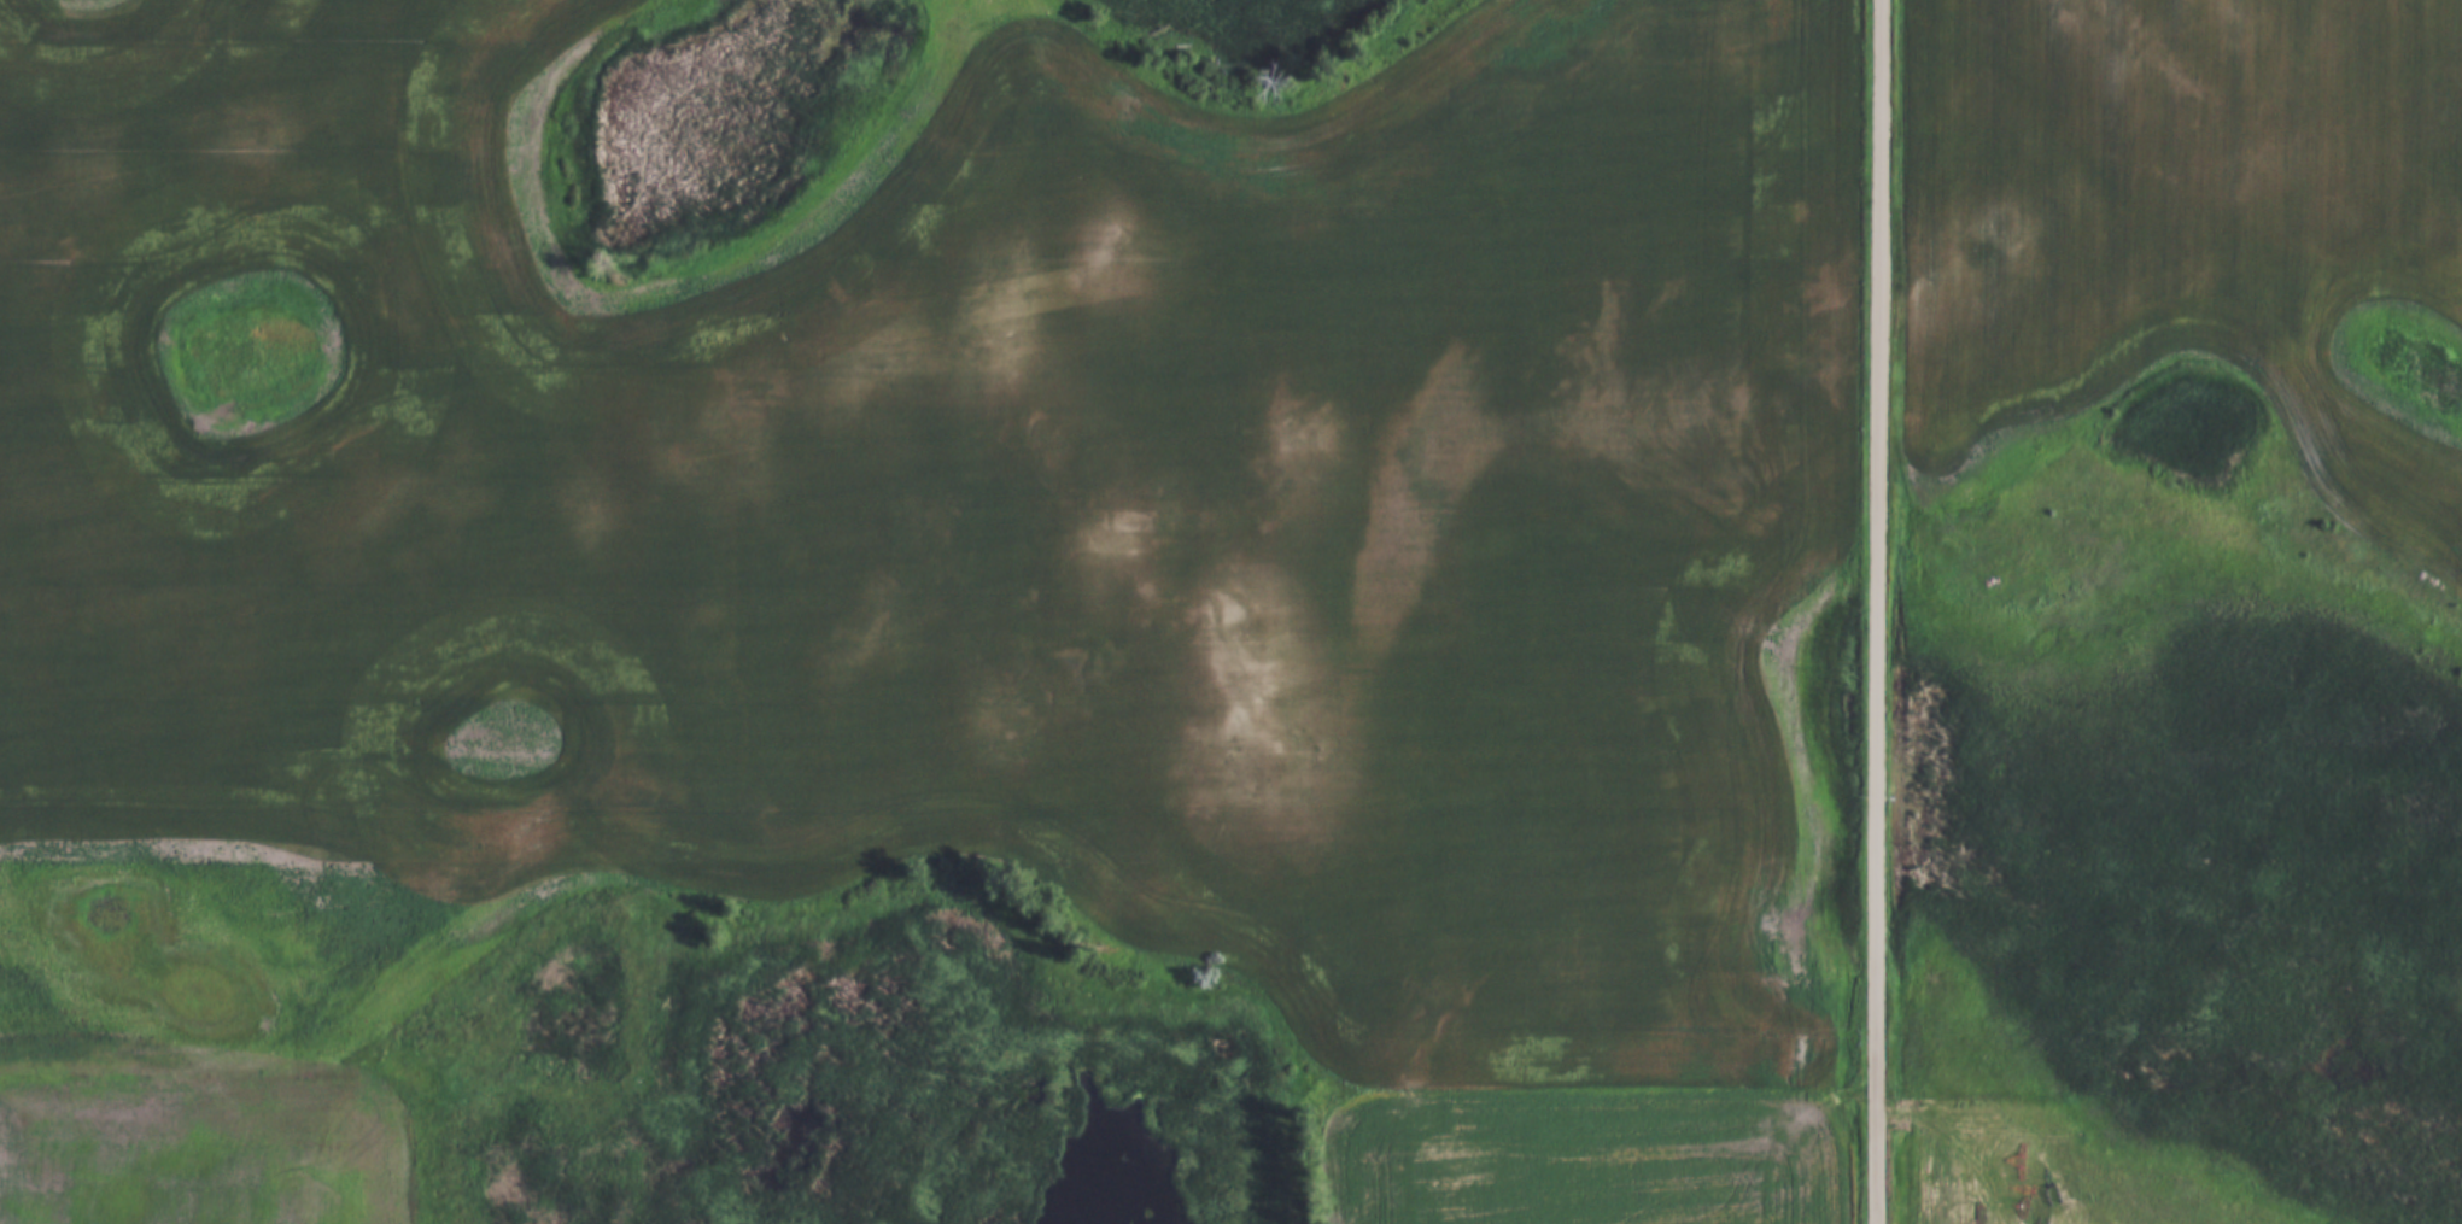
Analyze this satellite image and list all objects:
road: (1883, 611)

